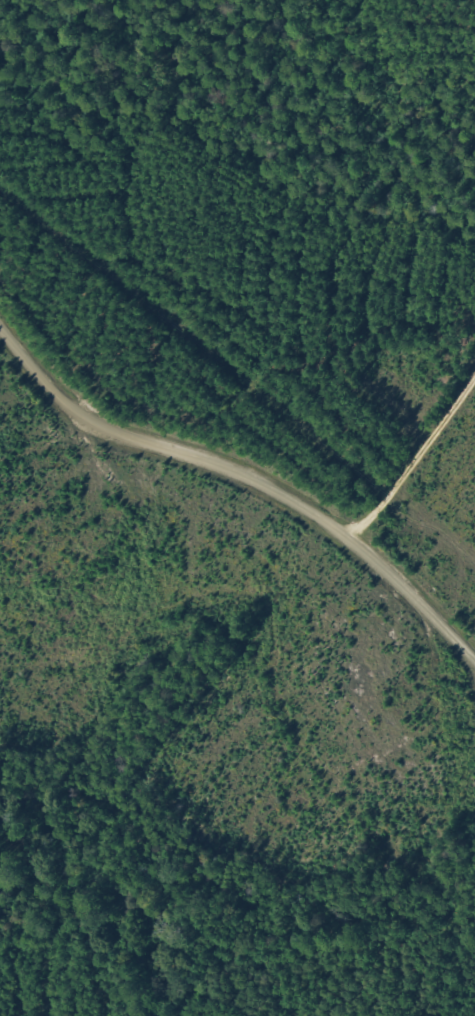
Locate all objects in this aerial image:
road: (262, 486)

